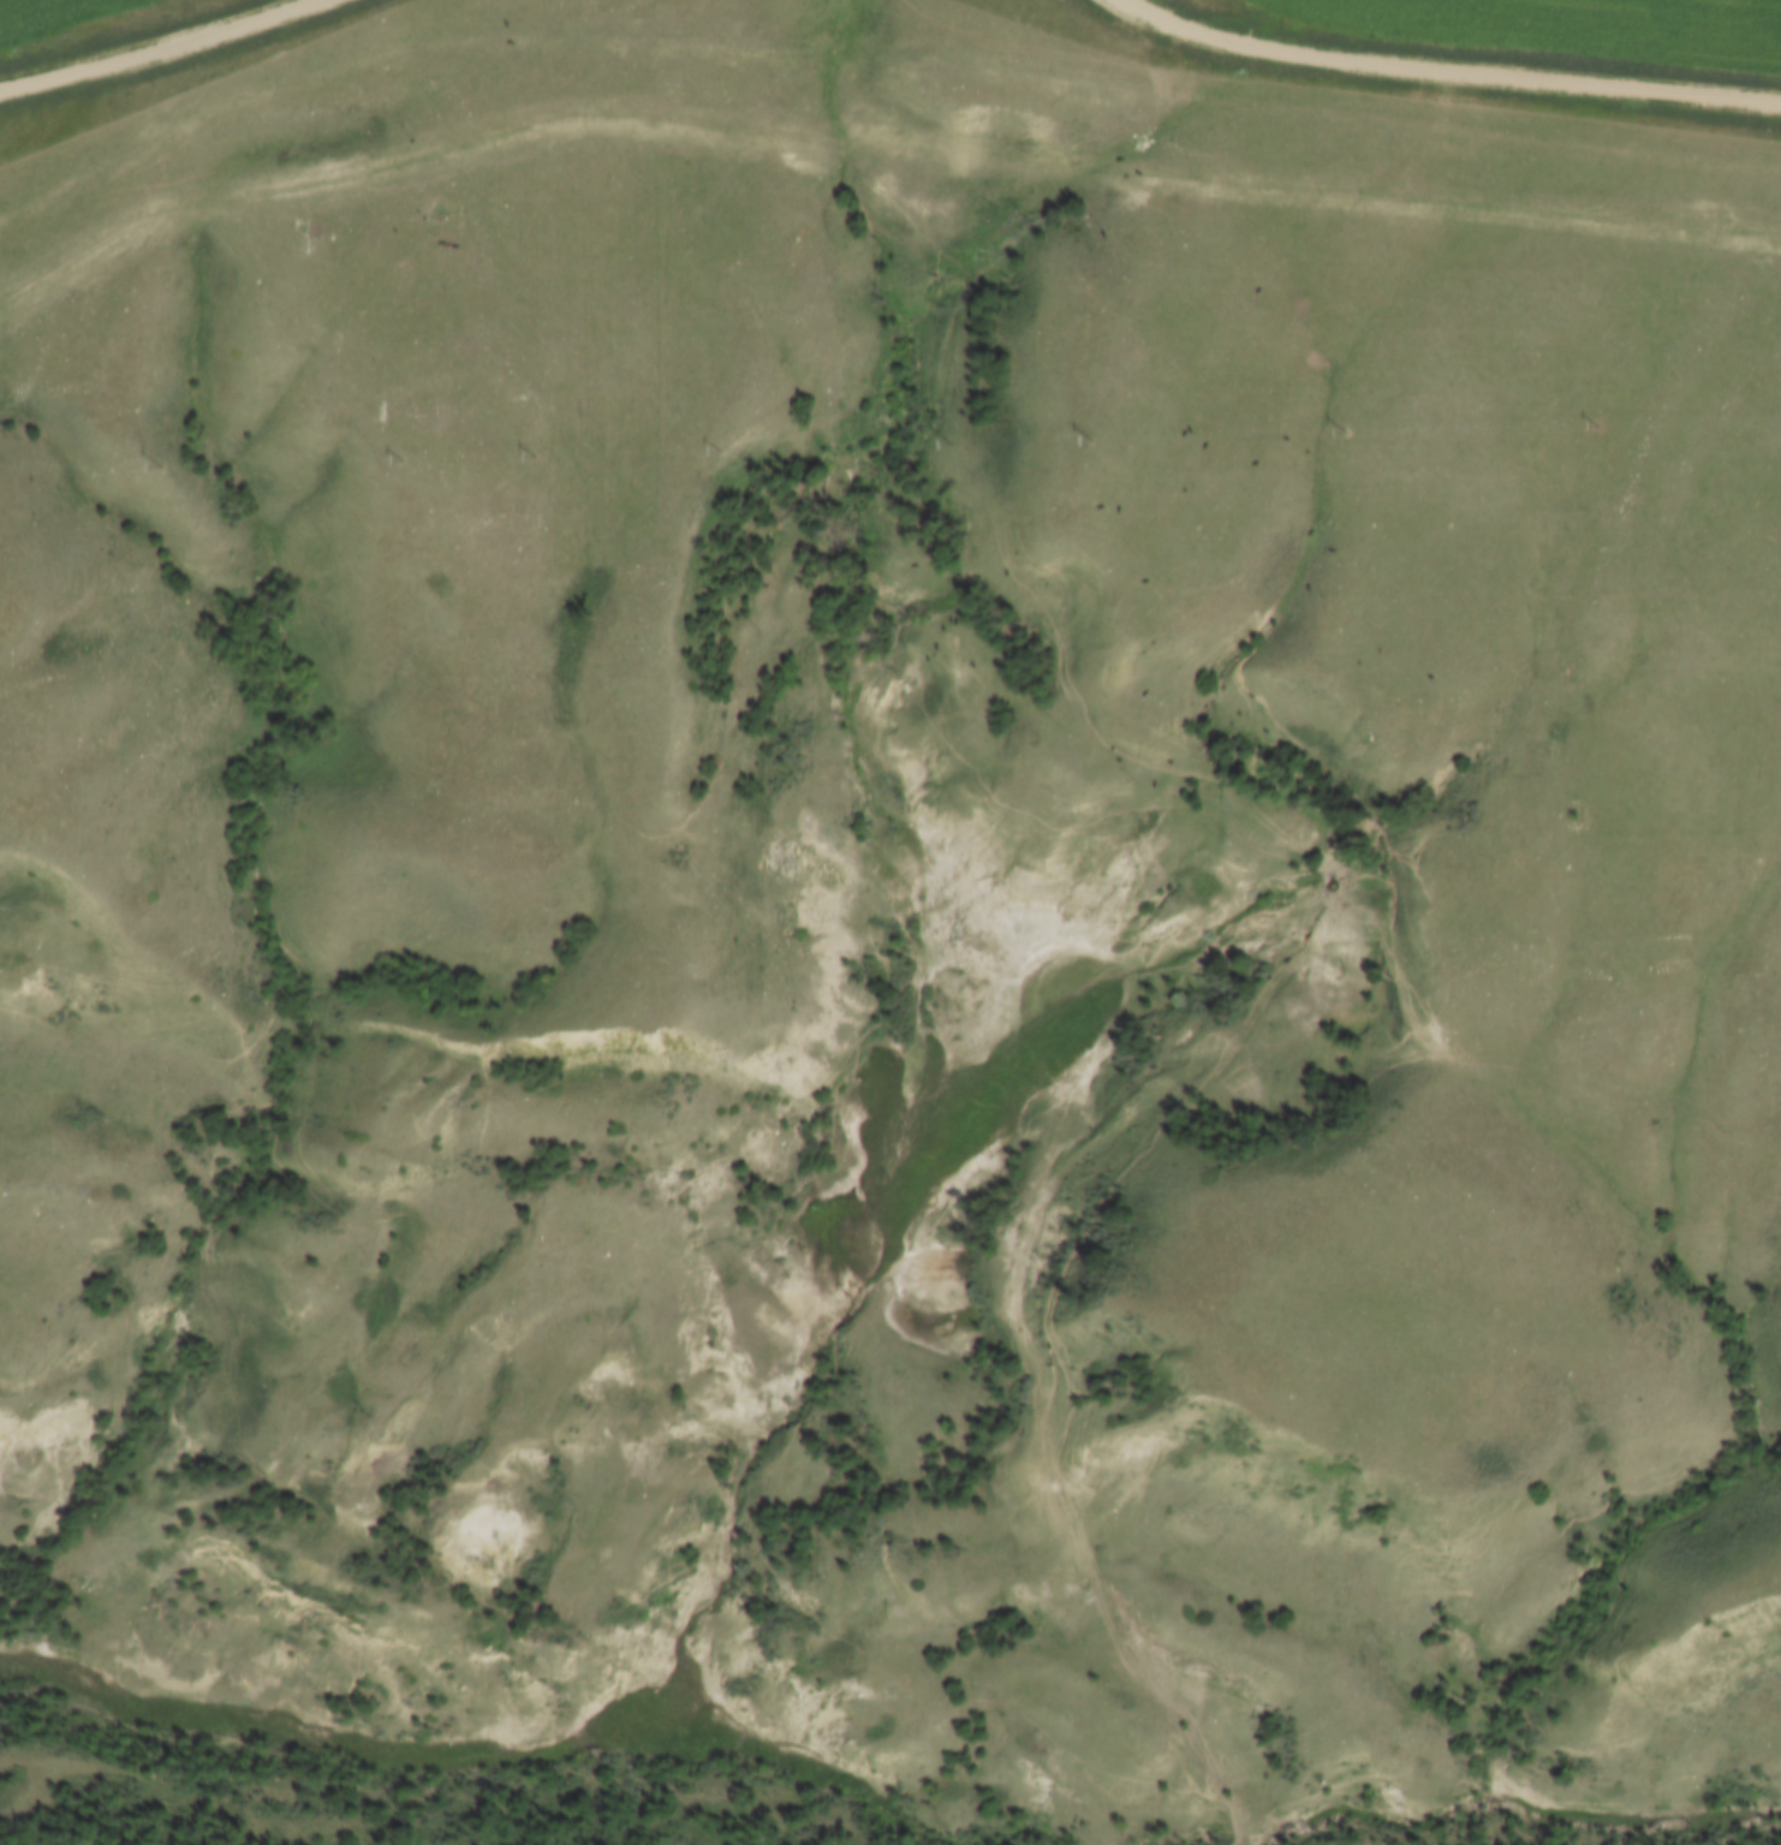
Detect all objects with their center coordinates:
road: (187, 37)
road: (1426, 79)

